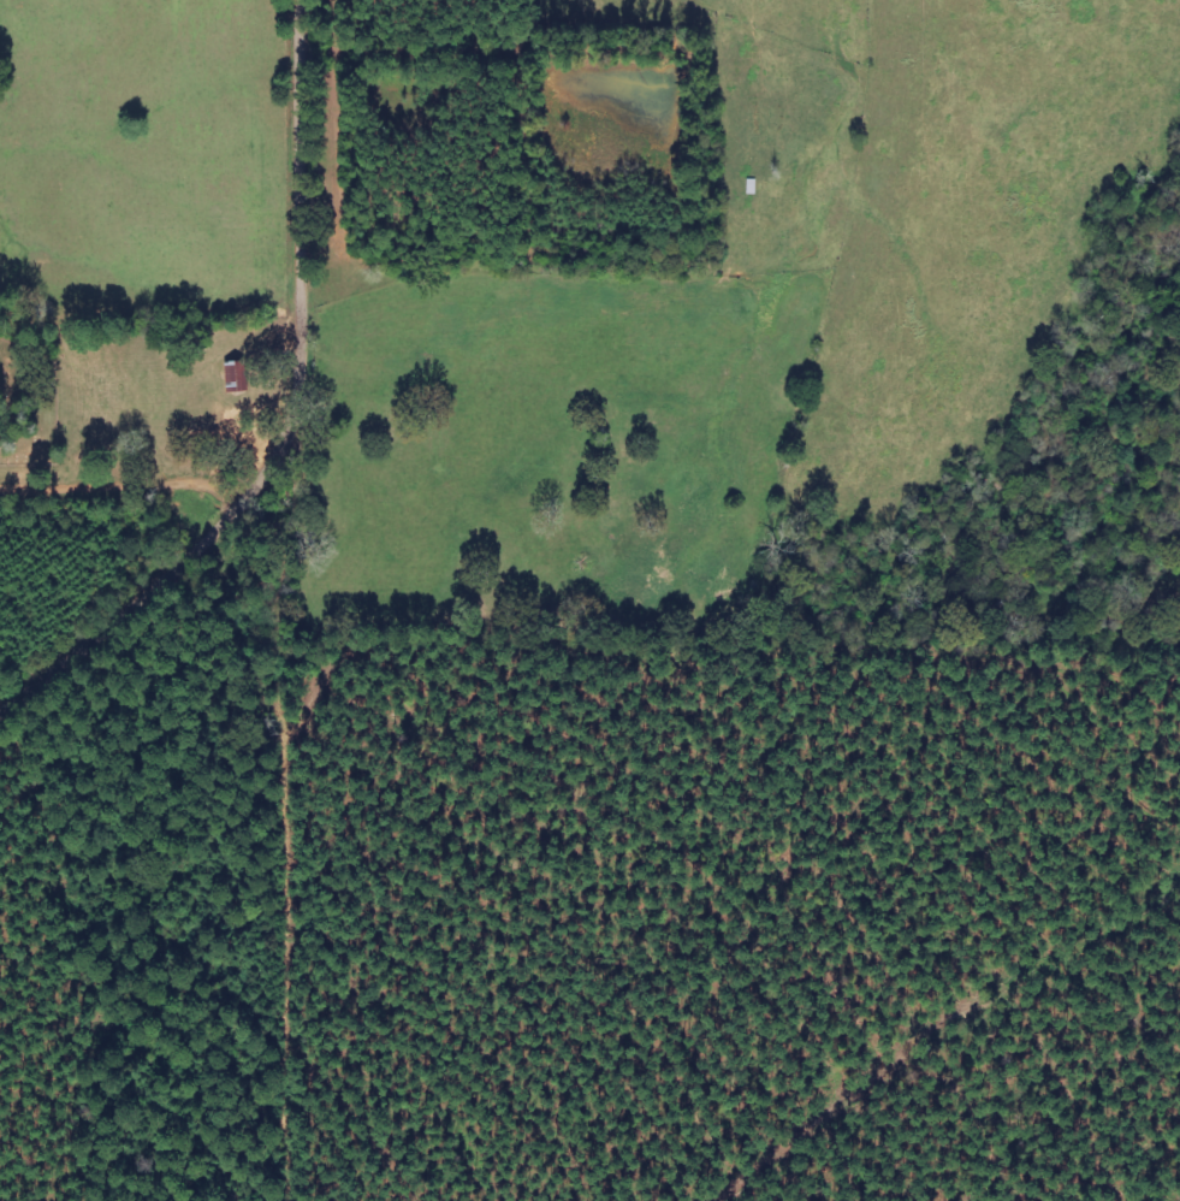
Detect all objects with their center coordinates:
park: (26, 400)
road: (277, 425)
road: (120, 523)

